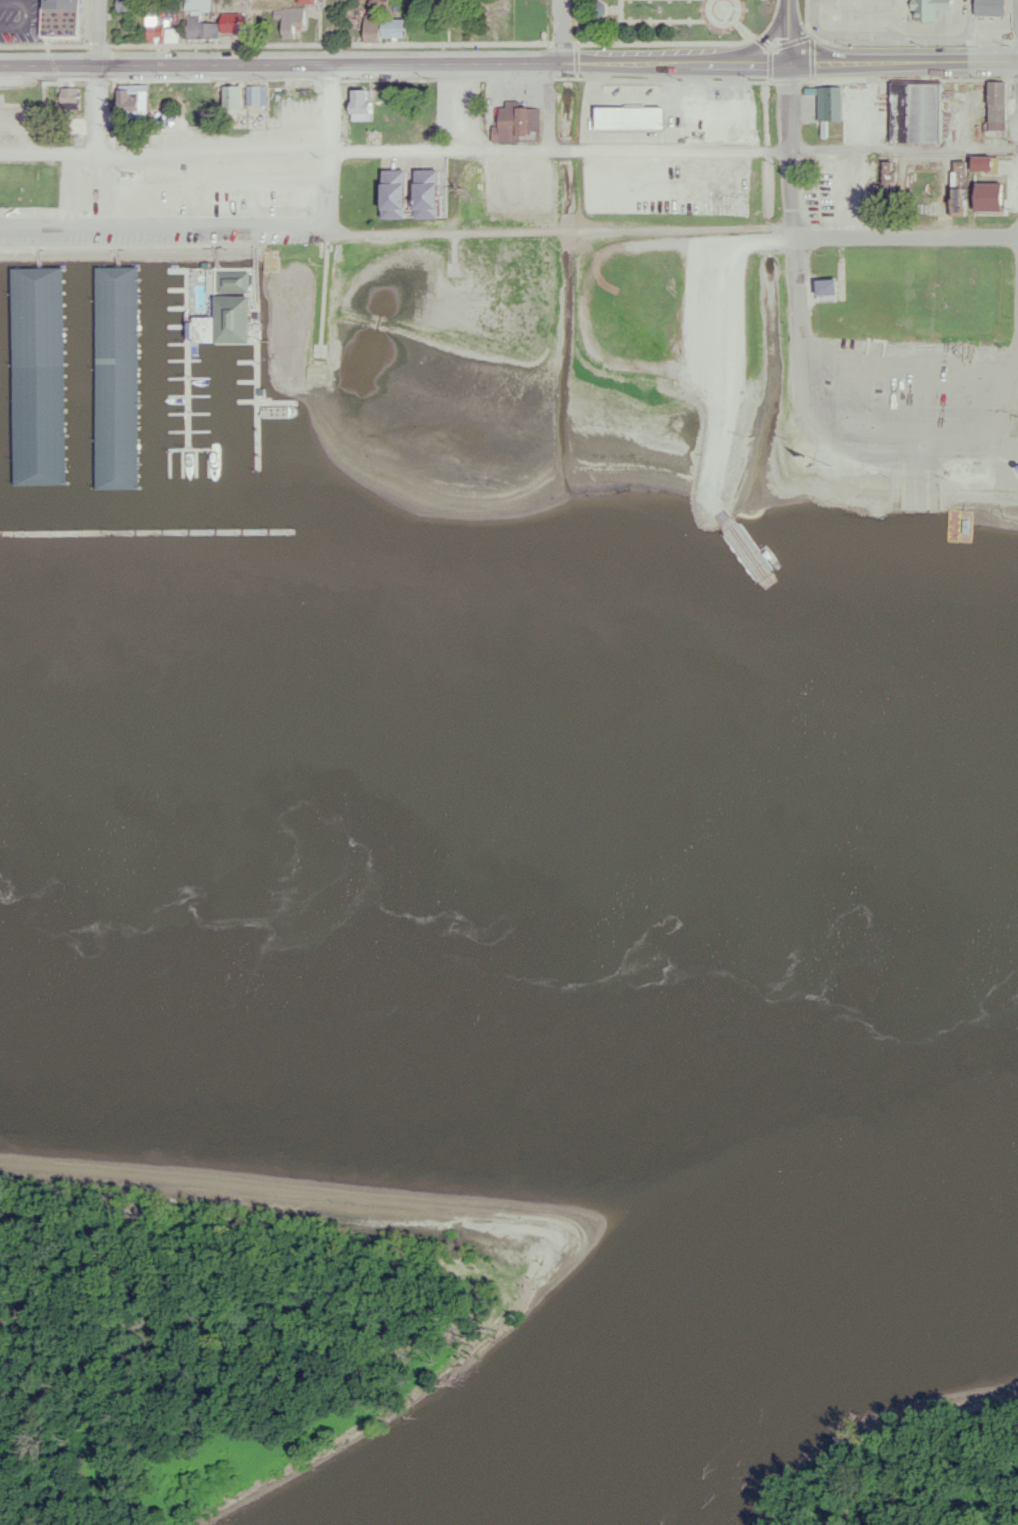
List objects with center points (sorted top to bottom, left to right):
building: (126, 4)
building: (998, 5)
building: (596, 8)
building: (928, 8)
road: (26, 12)
building: (495, 13)
building: (69, 14)
building: (155, 17)
building: (287, 19)
building: (379, 22)
building: (208, 26)
building: (175, 28)
road: (562, 28)
road: (789, 30)
building: (155, 35)
road: (394, 59)
road: (903, 59)
traffic signals: (789, 61)
road: (98, 73)
building: (144, 94)
building: (251, 95)
building: (230, 97)
building: (67, 99)
building: (619, 99)
building: (1006, 99)
building: (995, 100)
building: (828, 102)
building: (459, 103)
building: (359, 104)
road: (790, 105)
building: (923, 105)
building: (134, 107)
building: (524, 119)
road: (330, 143)
road: (226, 147)
road: (509, 147)
road: (904, 147)
road: (678, 148)
building: (981, 160)
building: (926, 167)
building: (887, 178)
road: (102, 186)
building: (958, 186)
road: (793, 192)
building: (931, 207)
road: (165, 225)
parking lot: (156, 228)
road: (569, 229)
road: (908, 235)
road: (800, 238)
road: (801, 287)
building: (826, 287)
building: (243, 299)
road: (725, 350)
road: (1017, 351)
pier: (192, 358)
pier: (49, 367)
building: (51, 371)
pier: (125, 371)
building: (125, 374)
pier: (281, 399)
parking lot: (901, 400)
pier: (263, 404)
pier: (195, 448)
pier: (49, 482)
pier: (125, 488)
road: (916, 488)
building: (716, 508)
pier: (149, 529)
river: (509, 1025)

